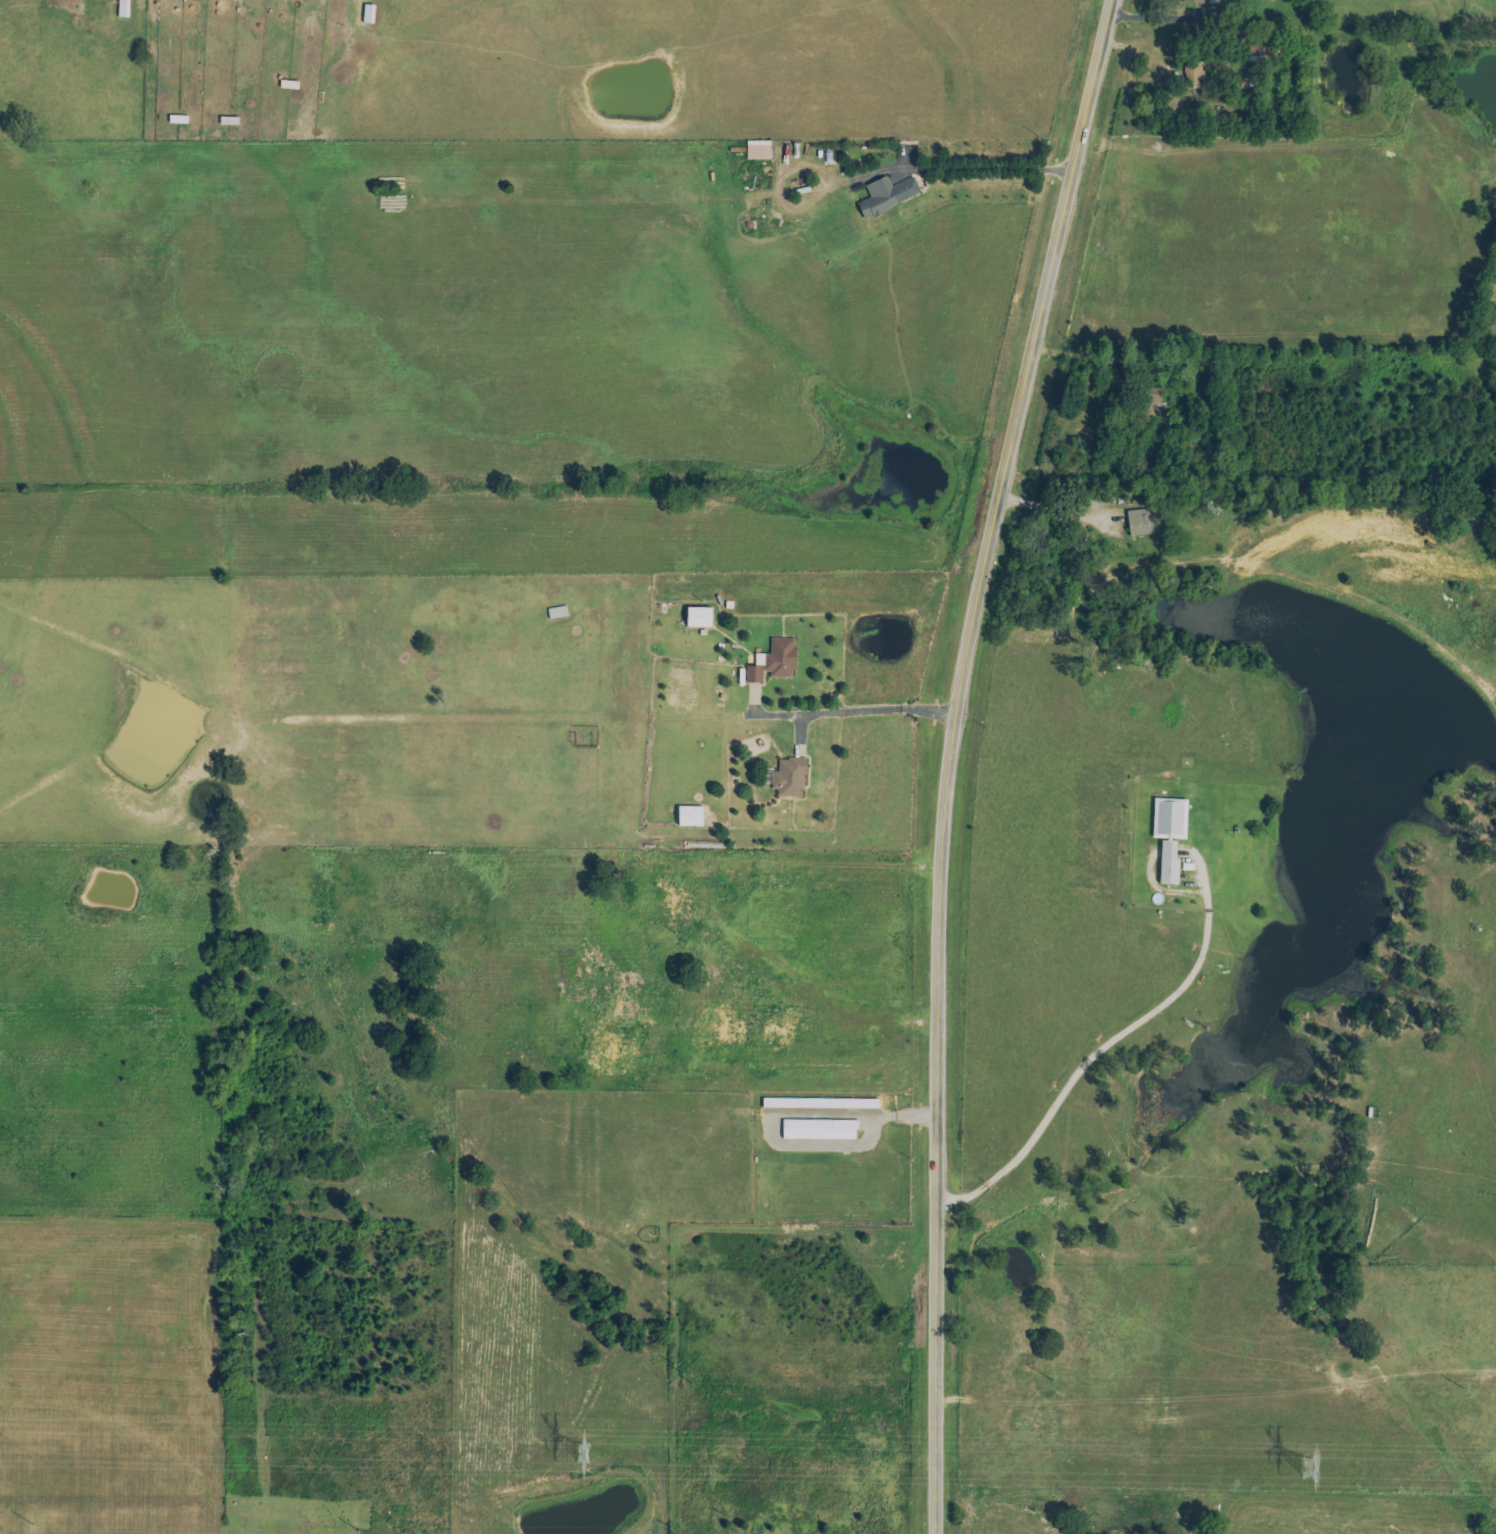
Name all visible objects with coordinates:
building: (1197, 1)
building: (1194, 73)
building: (178, 119)
building: (759, 150)
road: (965, 173)
building: (888, 195)
building: (1156, 402)
building: (1143, 522)
building: (699, 617)
building: (774, 661)
road: (855, 708)
road: (949, 757)
building: (790, 778)
building: (691, 817)
building: (1170, 818)
building: (1169, 863)
road: (711, 908)
road: (1095, 1052)
building: (821, 1103)
building: (820, 1129)
power tower: (585, 1453)
power tower: (1311, 1467)

